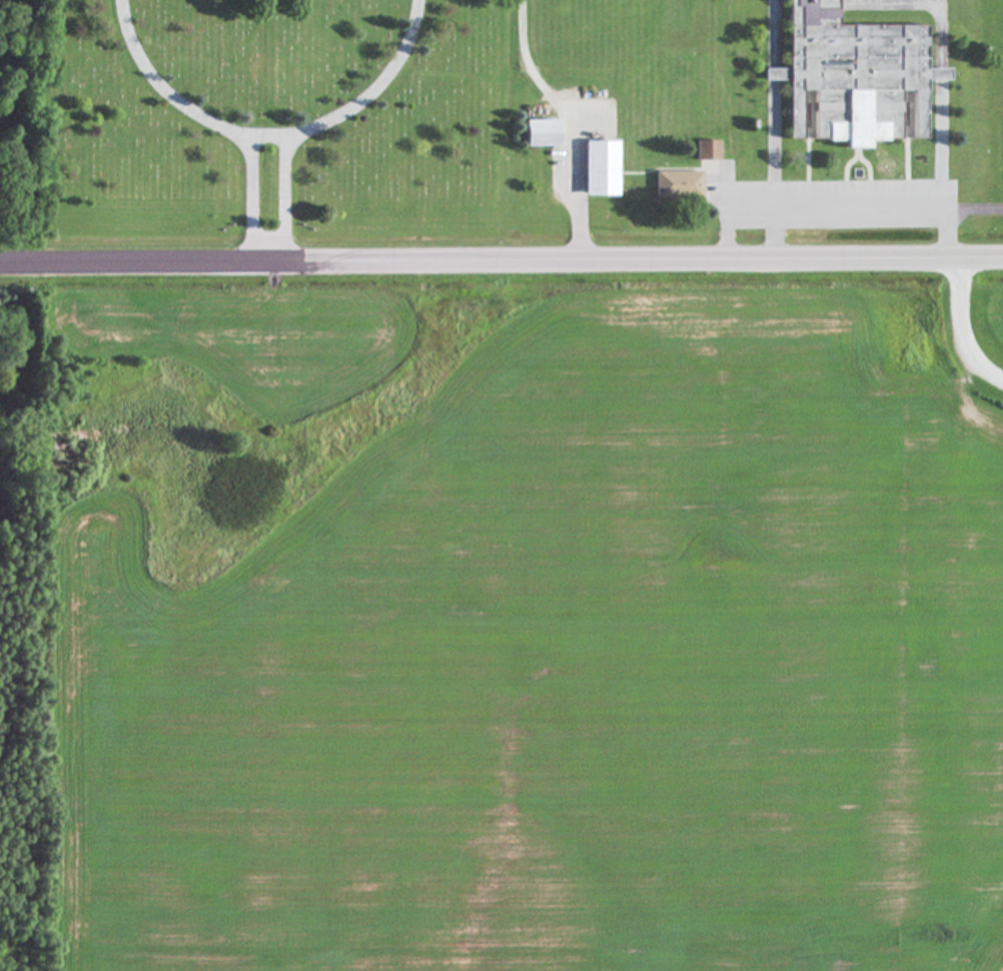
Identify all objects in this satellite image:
building: (845, 78)
road: (568, 122)
park: (277, 123)
road: (268, 135)
building: (535, 135)
building: (701, 152)
building: (595, 170)
building: (672, 186)
road: (250, 196)
road: (282, 196)
road: (857, 206)
road: (722, 207)
road: (501, 257)
road: (958, 328)

